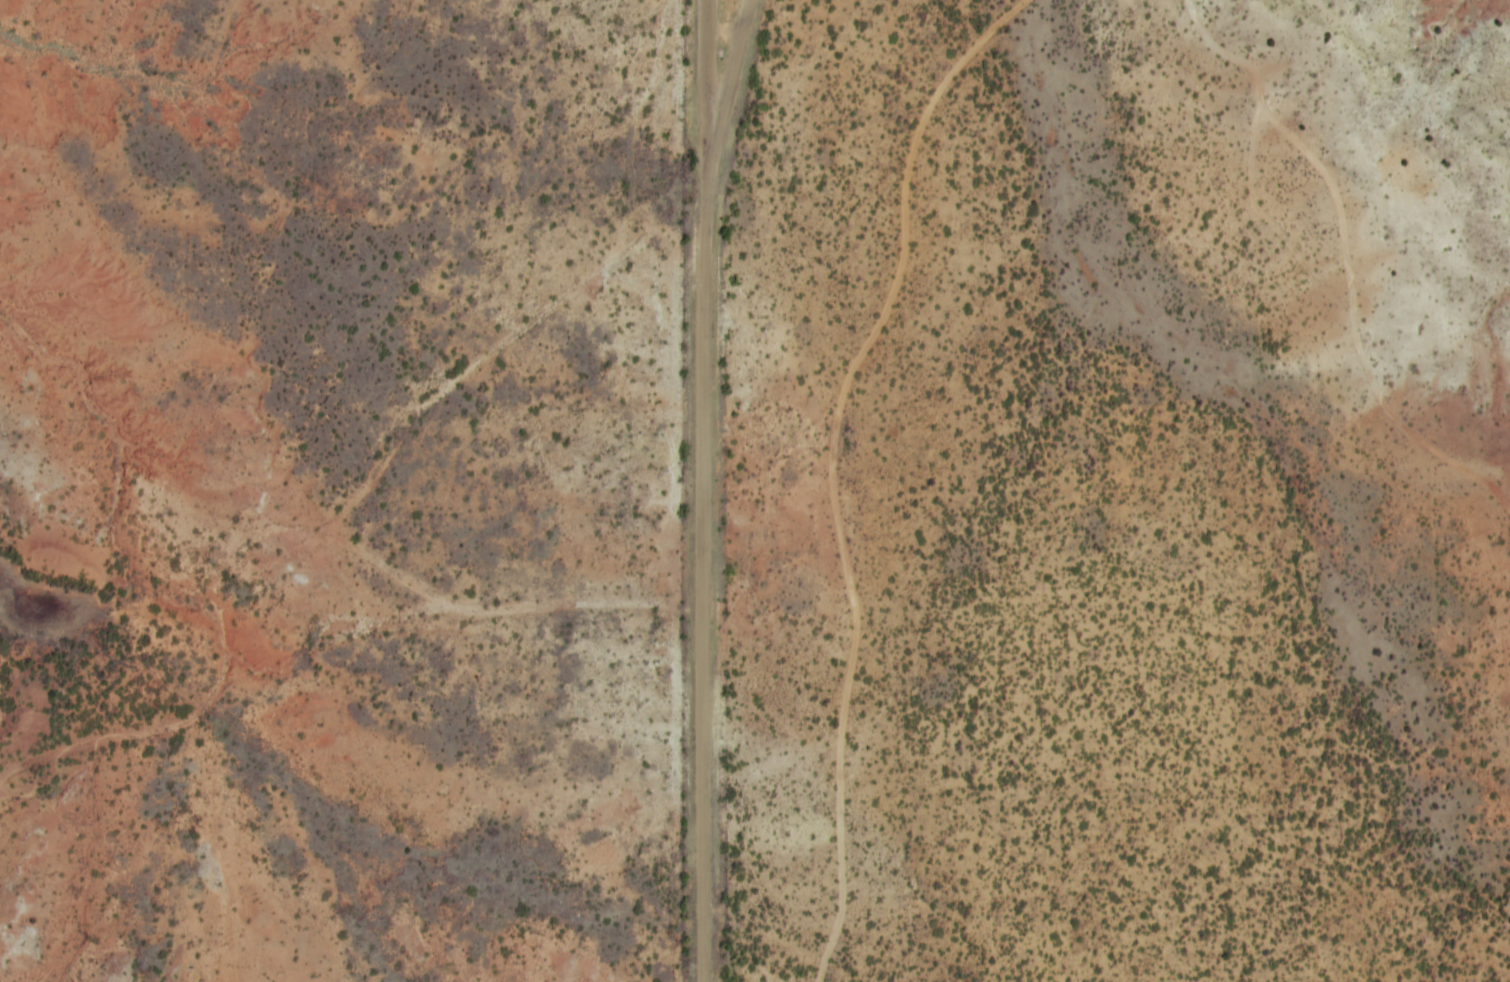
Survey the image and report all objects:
road: (728, 92)
road: (702, 490)

